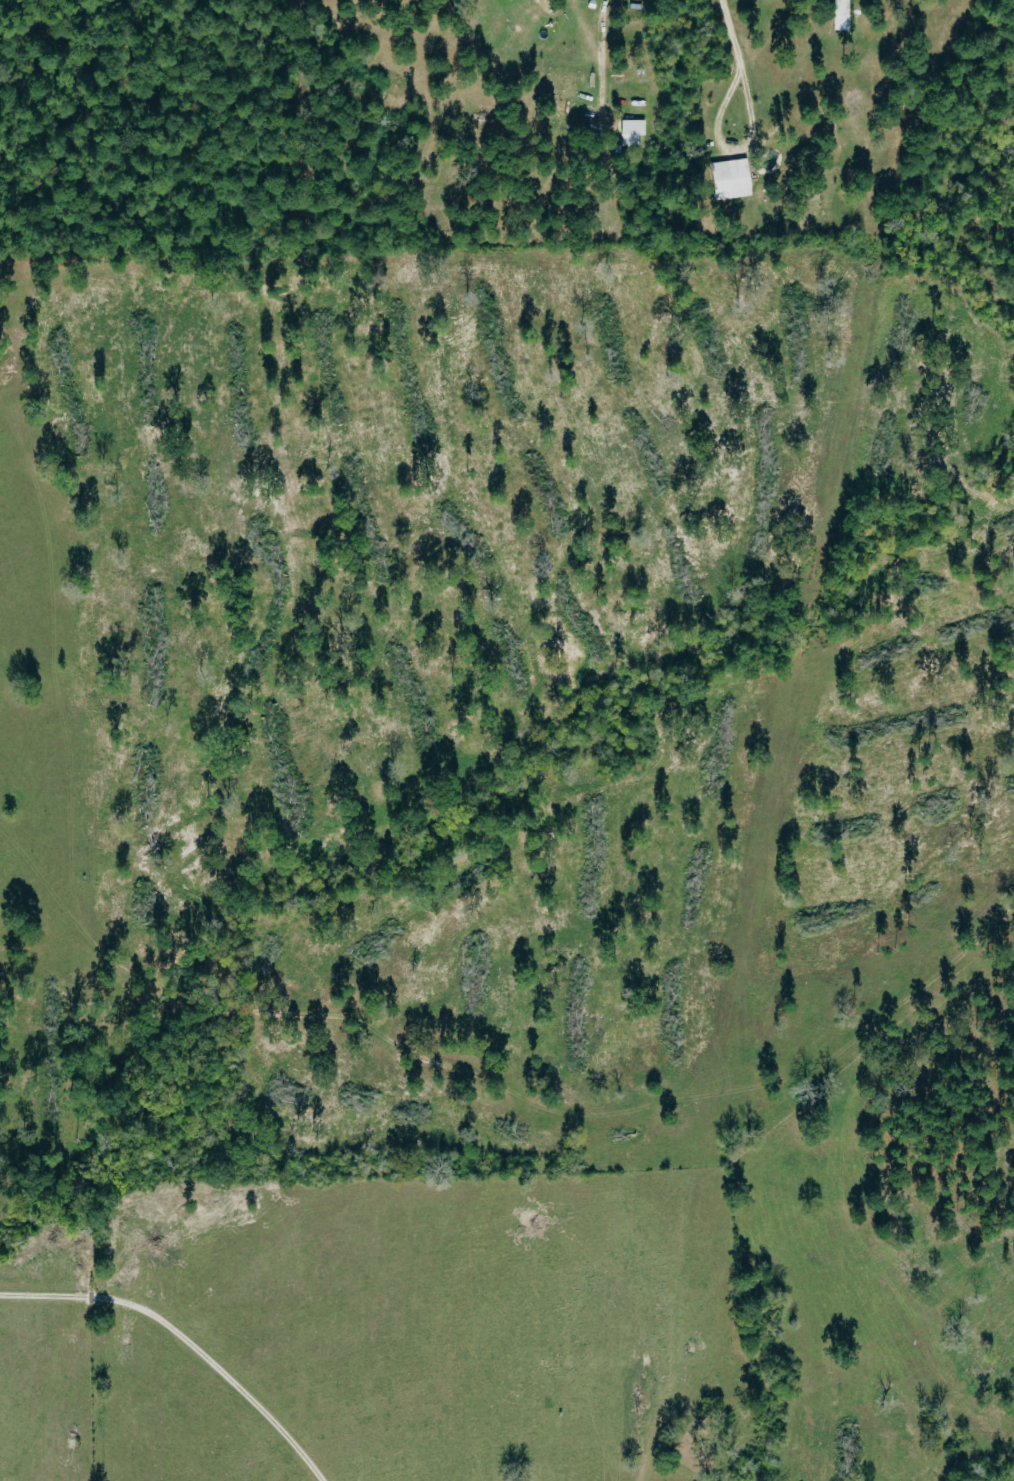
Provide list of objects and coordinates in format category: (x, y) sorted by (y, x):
building: (844, 15)
road: (730, 33)
road: (602, 51)
building: (634, 132)
road: (730, 147)
building: (734, 179)

